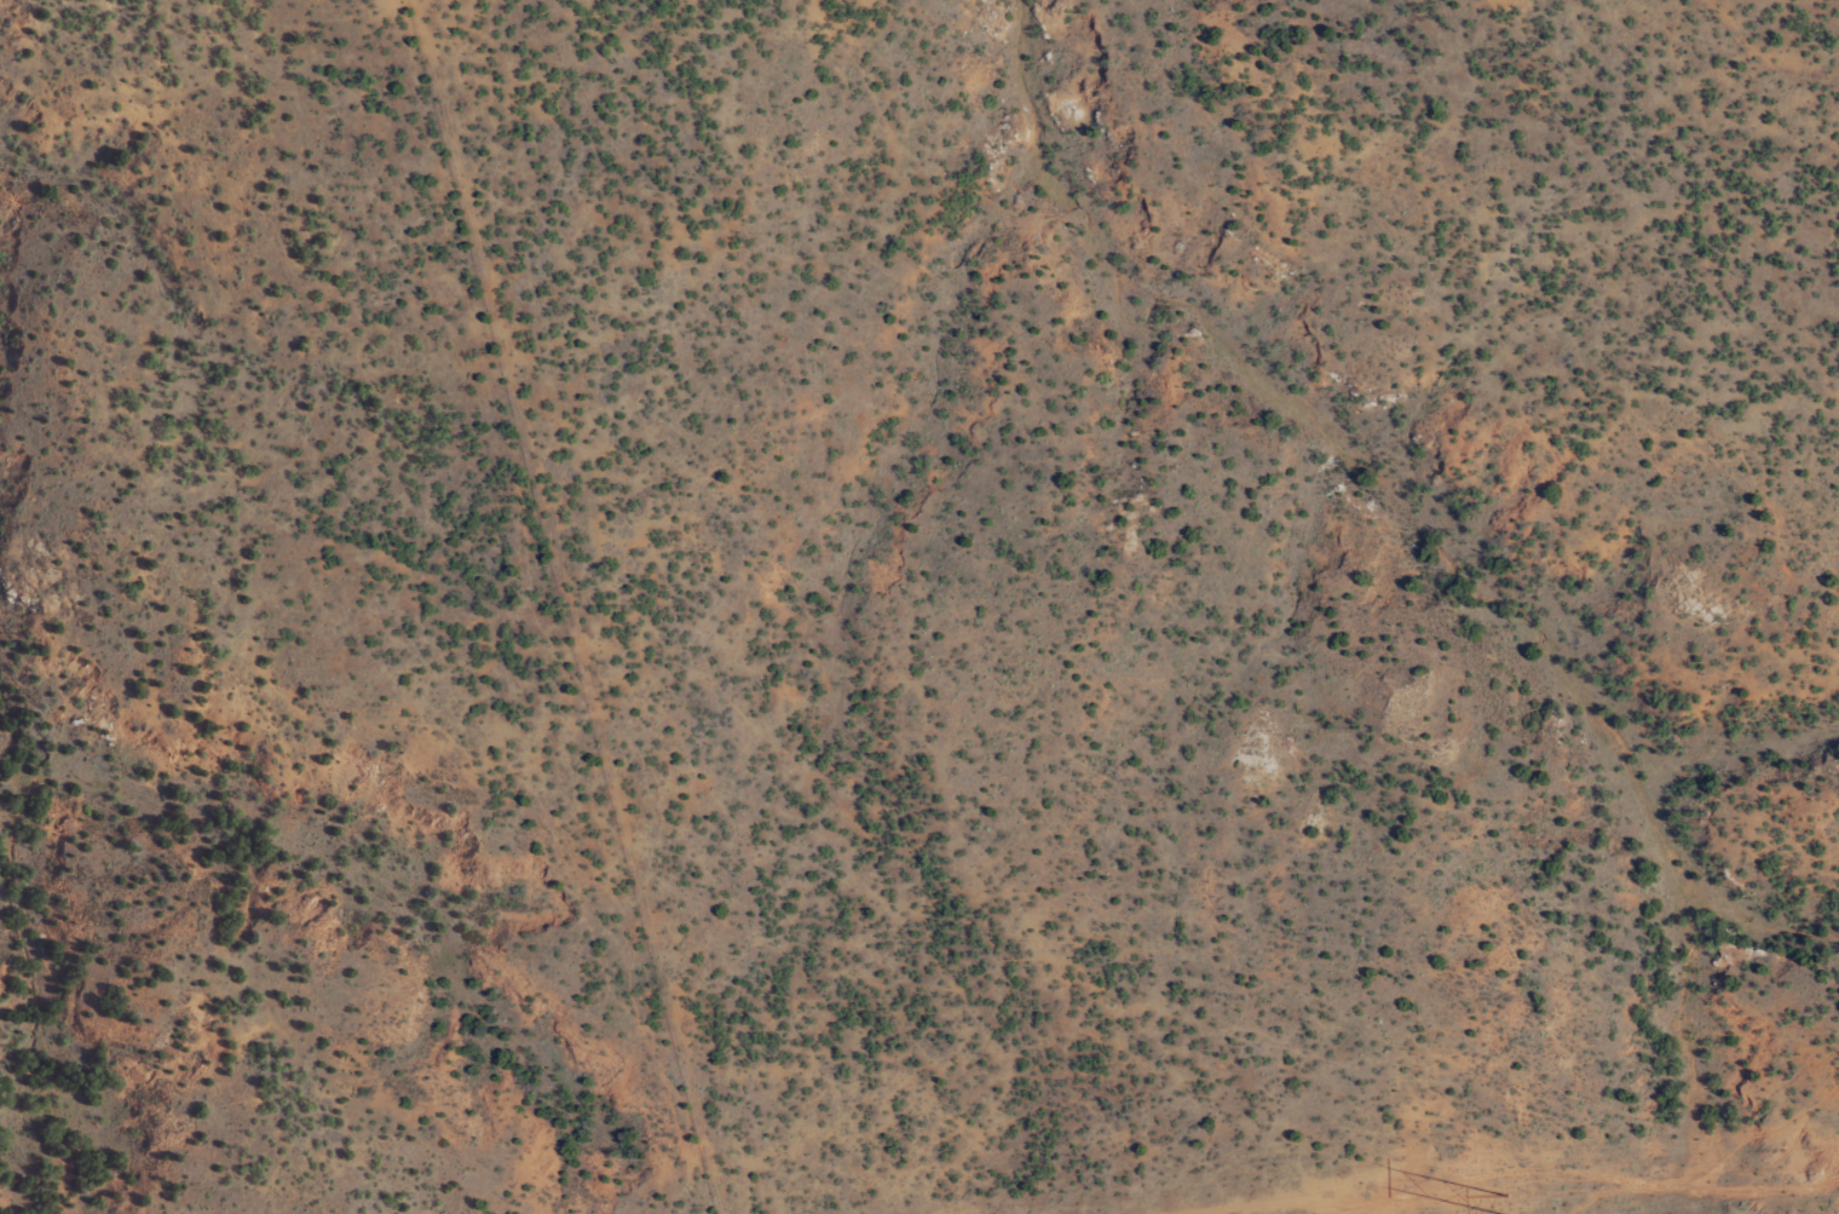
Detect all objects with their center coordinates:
power tower: (1504, 1204)

